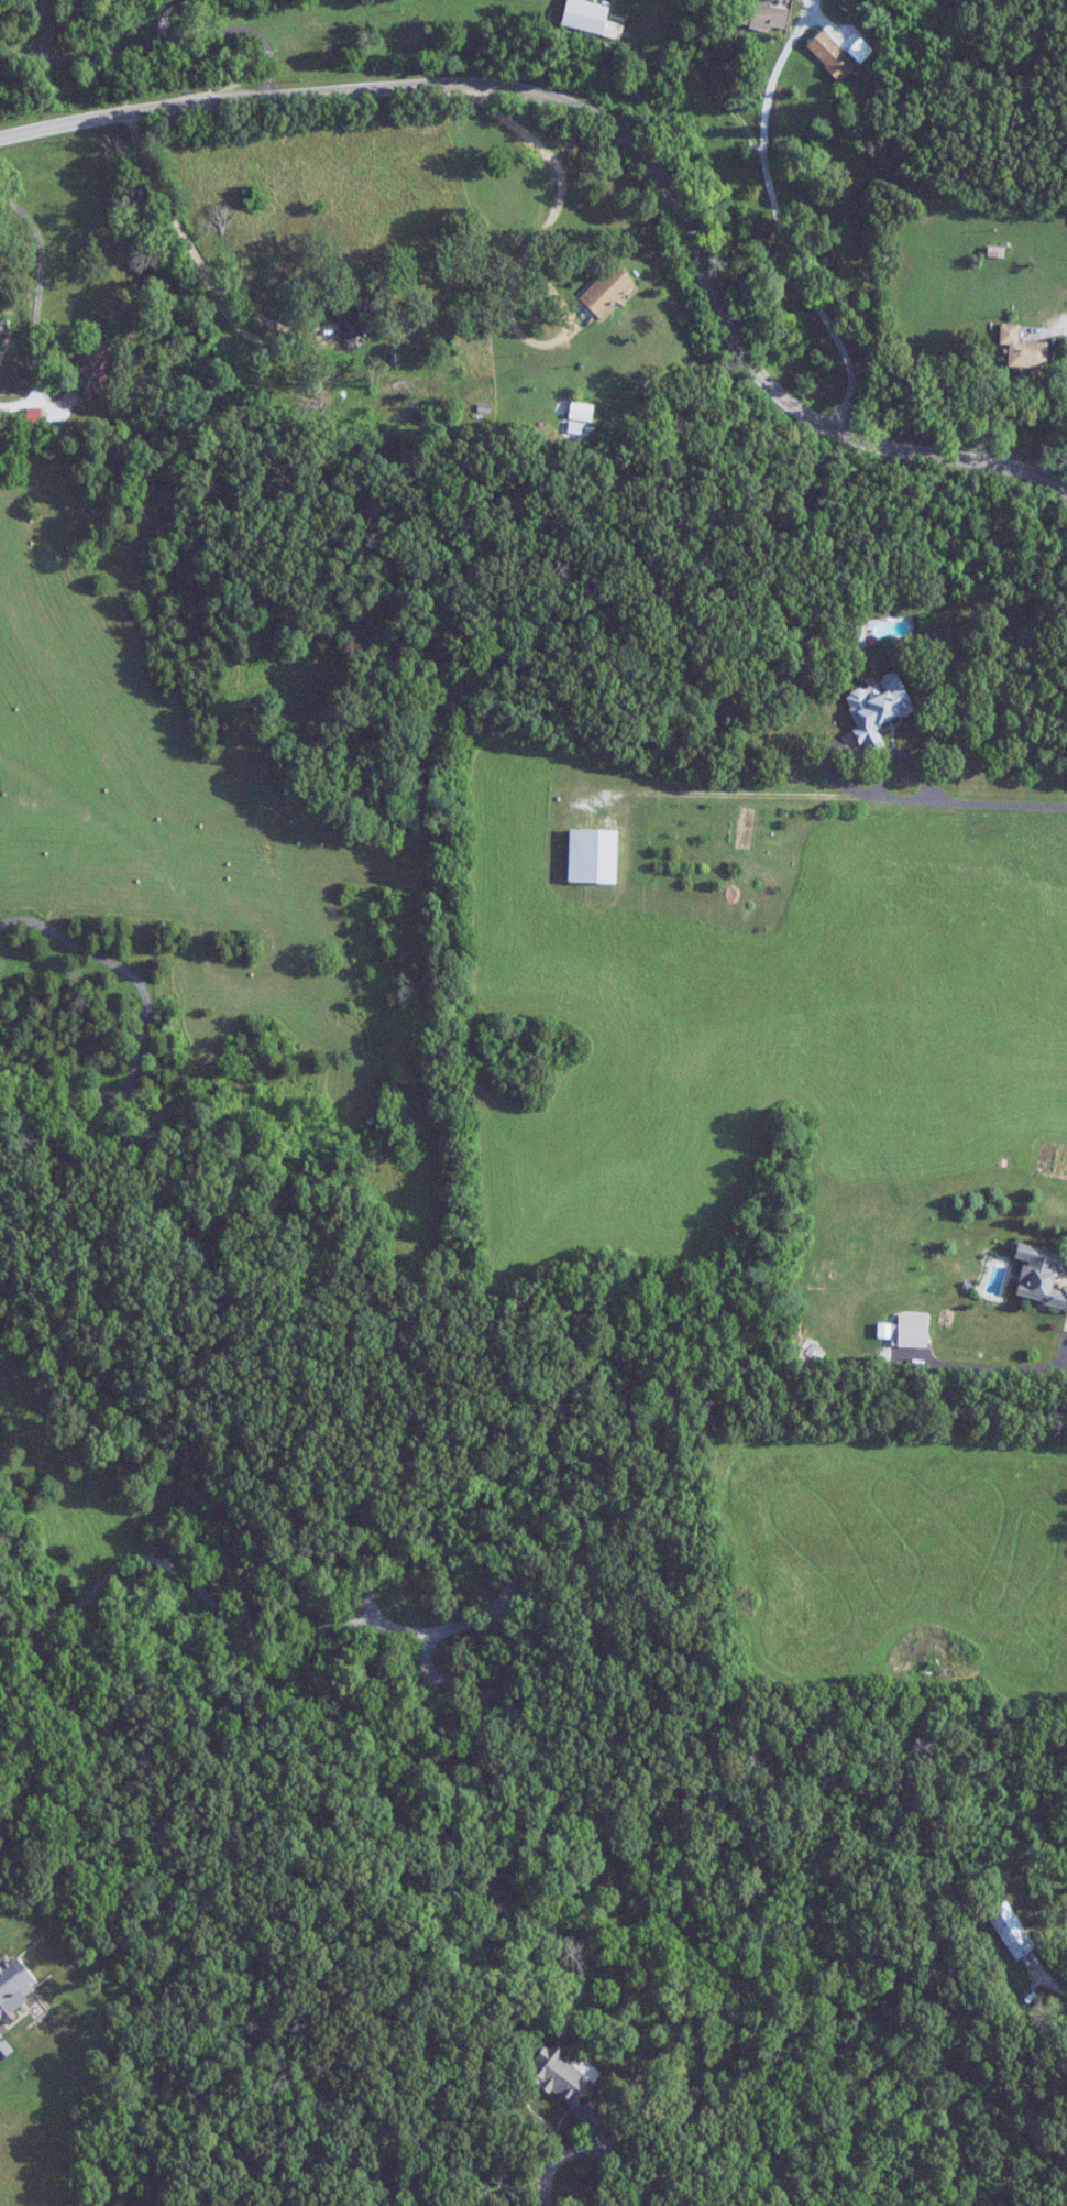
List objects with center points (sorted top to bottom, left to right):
road: (158, 14)
building: (762, 14)
building: (590, 18)
road: (479, 19)
road: (53, 25)
road: (183, 34)
road: (487, 46)
building: (835, 54)
road: (21, 56)
road: (607, 136)
road: (783, 228)
road: (194, 255)
road: (40, 281)
building: (607, 290)
road: (1066, 319)
building: (1022, 349)
building: (94, 371)
building: (25, 419)
building: (877, 709)
road: (883, 756)
road: (994, 801)
building: (594, 854)
road: (66, 1081)
road: (249, 1222)
building: (1039, 1276)
building: (909, 1335)
road: (1066, 1356)
road: (785, 1388)
road: (280, 1635)
road: (672, 1890)
building: (1011, 1930)
road: (1052, 1984)
building: (565, 2084)
road: (592, 2148)
road: (687, 2188)
road: (680, 2198)

